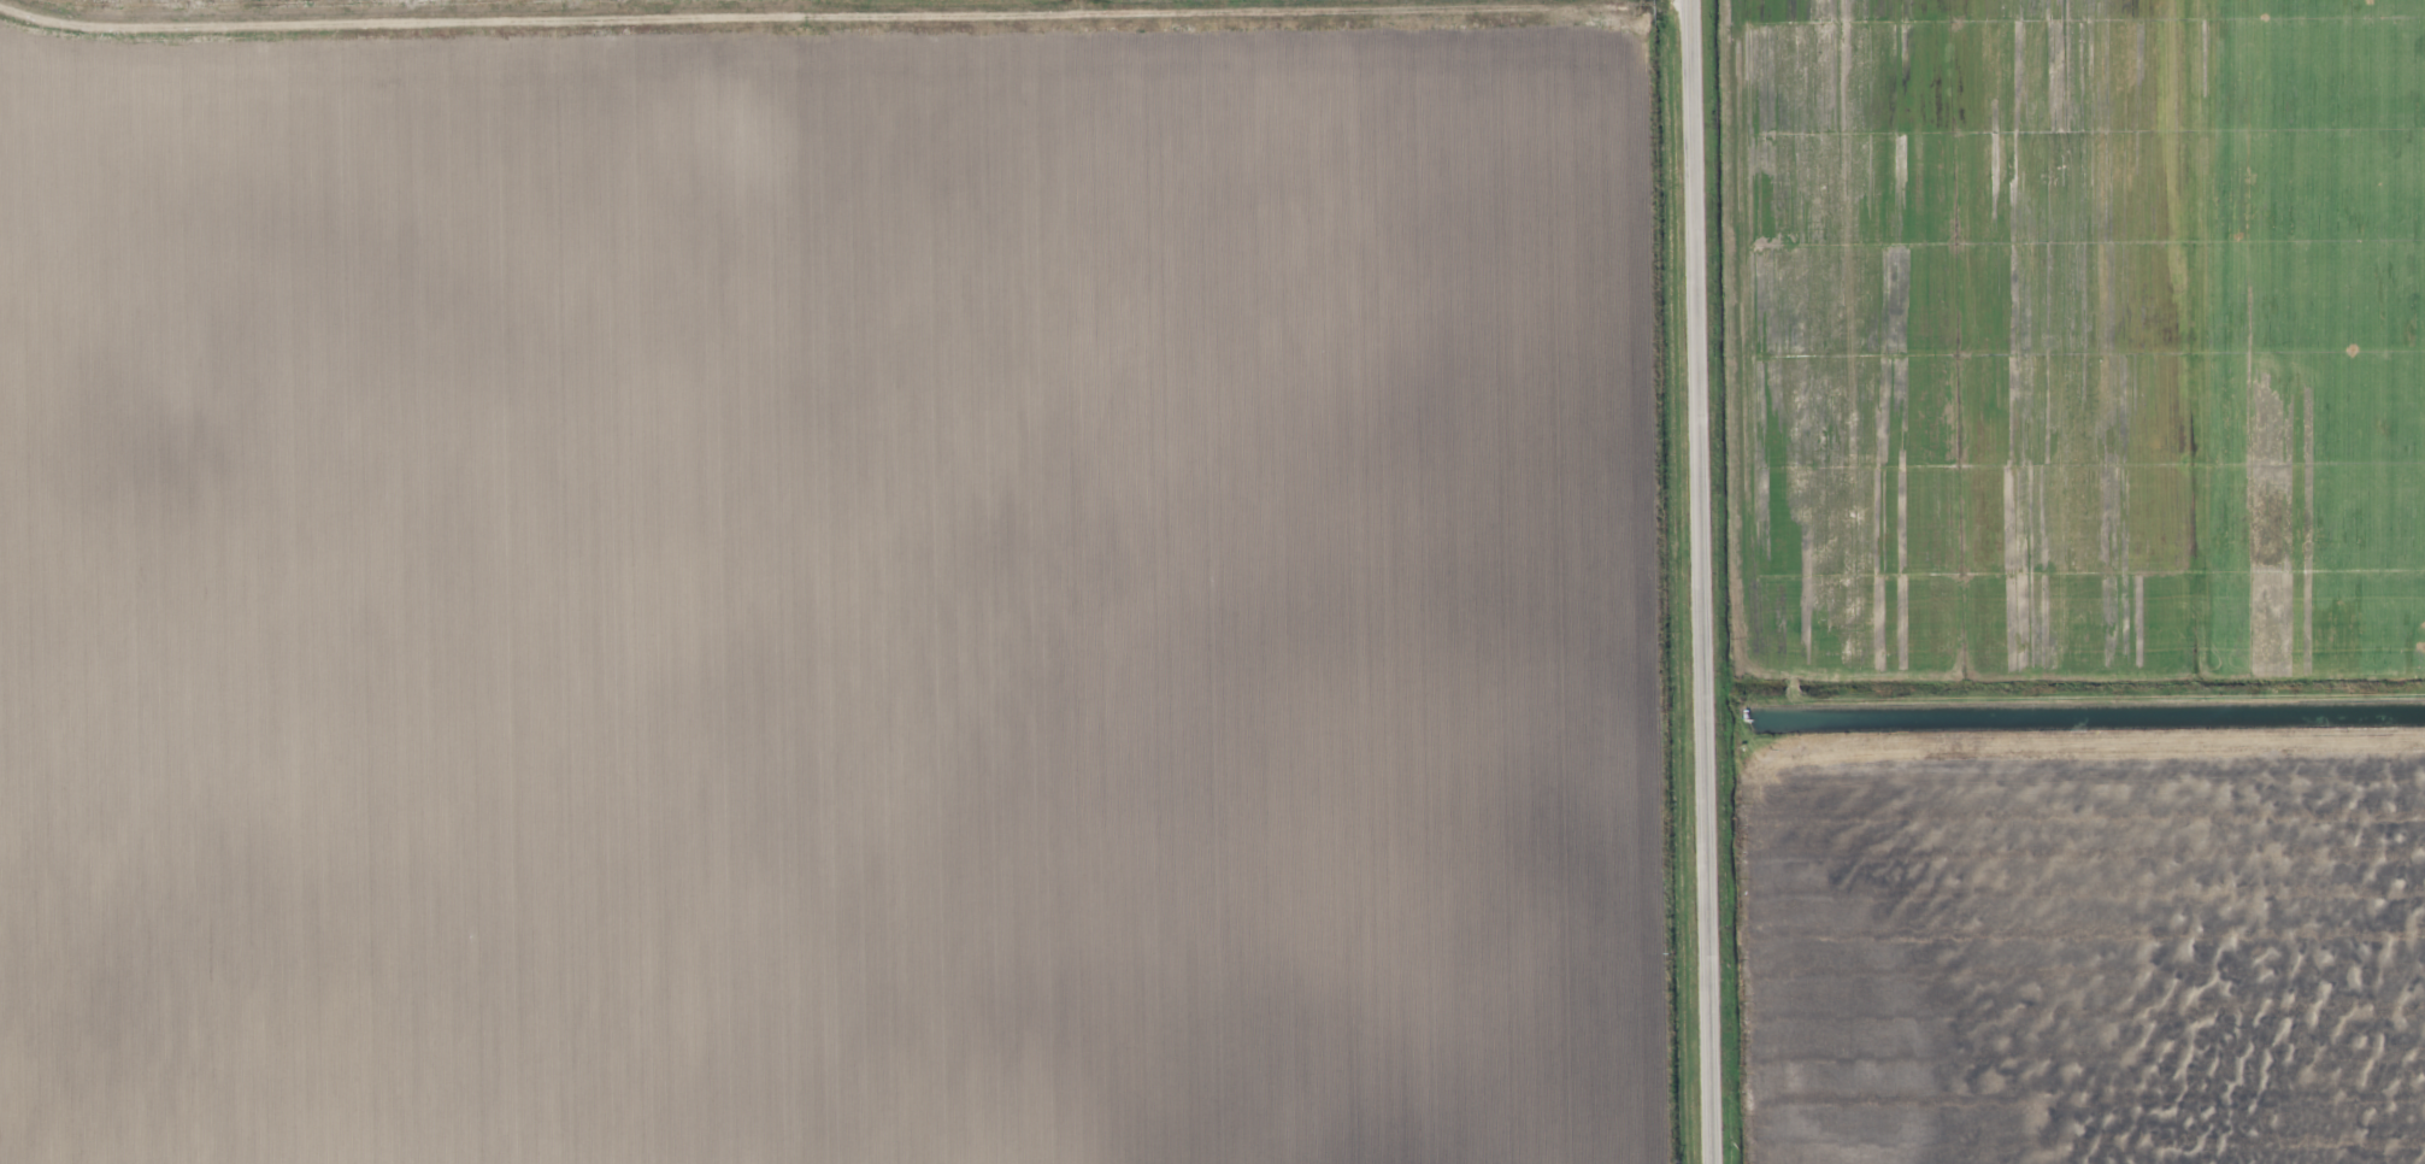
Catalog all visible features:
road: (844, 13)
road: (1702, 581)

